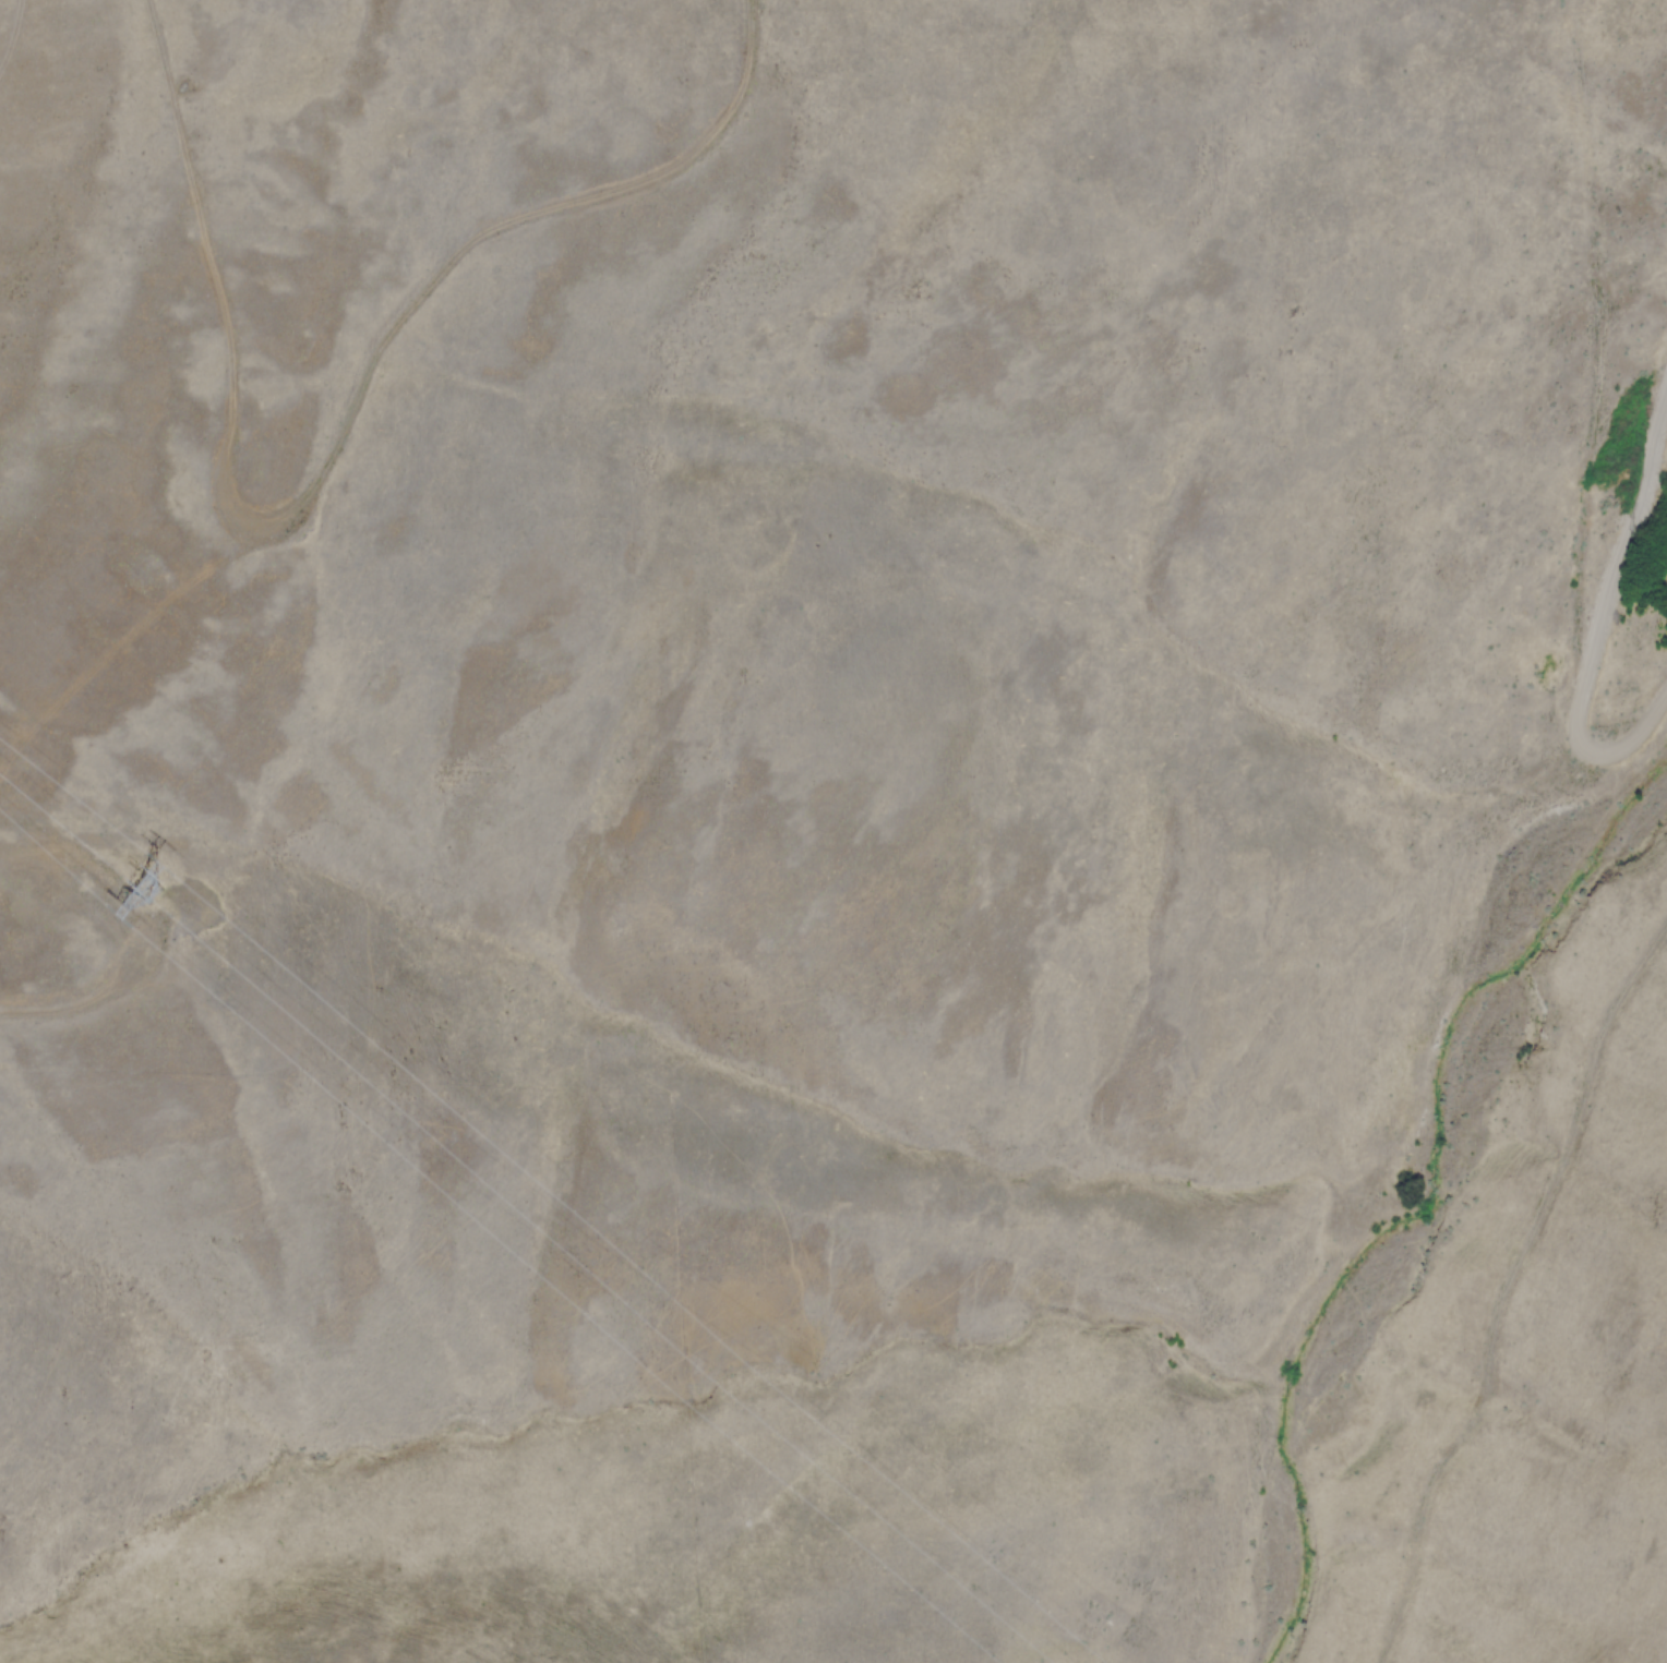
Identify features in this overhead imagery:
road: (1602, 625)
power tower: (166, 935)

